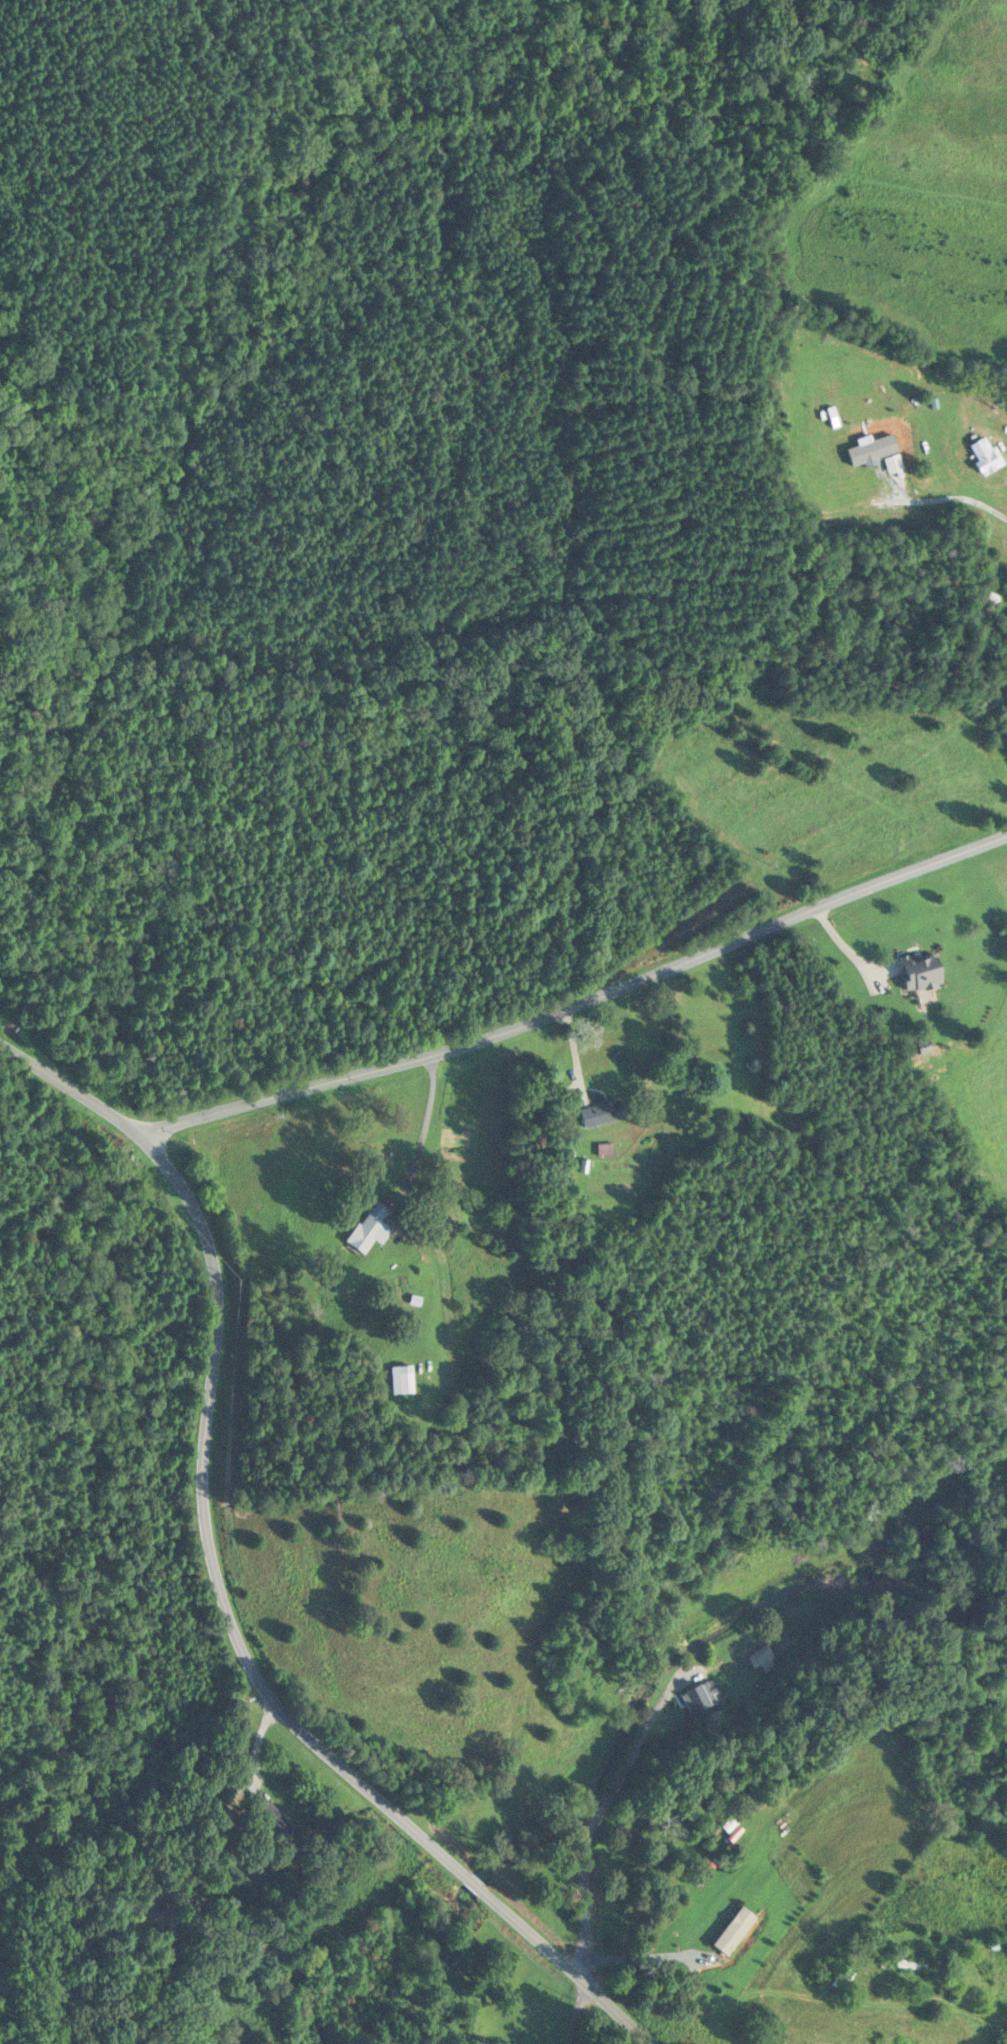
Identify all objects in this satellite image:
building: (983, 453)
road: (948, 498)
building: (989, 596)
road: (480, 896)
building: (917, 971)
road: (581, 1000)
road: (73, 1083)
building: (599, 1111)
building: (603, 1148)
building: (367, 1228)
building: (399, 1379)
building: (761, 1658)
road: (254, 1668)
building: (699, 1695)
road: (255, 1743)
road: (600, 1815)
building: (274, 1824)
road: (840, 1869)
building: (732, 1931)
building: (909, 1966)
road: (576, 2010)

